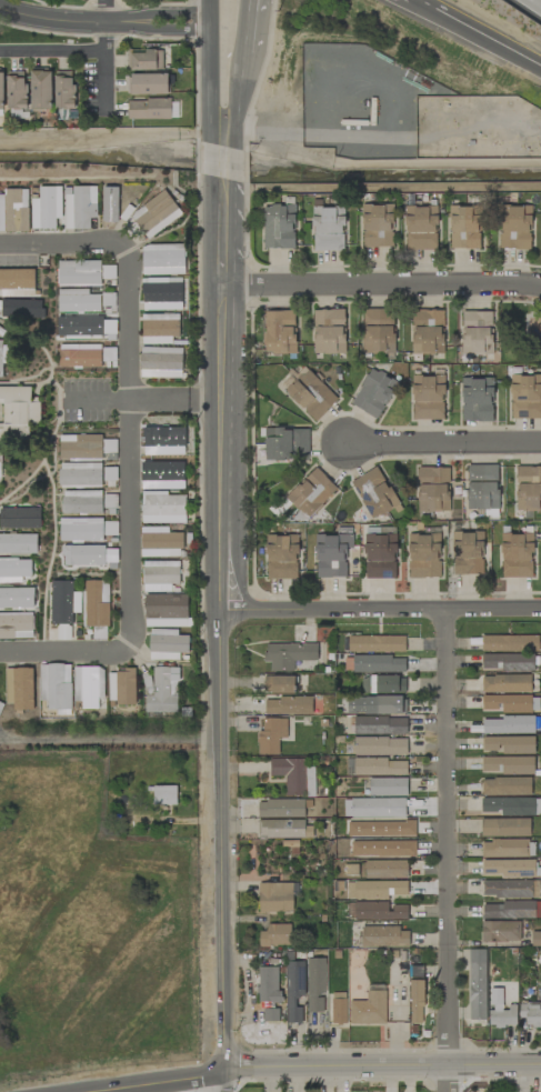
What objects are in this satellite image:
road: (103, 10)
road: (103, 20)
road: (474, 39)
road: (260, 49)
road: (53, 56)
building: (144, 60)
road: (107, 68)
road: (240, 74)
road: (210, 76)
building: (148, 83)
building: (16, 90)
building: (40, 90)
building: (63, 90)
building: (1, 91)
building: (149, 109)
building: (80, 207)
building: (46, 208)
building: (13, 210)
building: (156, 214)
building: (279, 226)
building: (378, 226)
building: (464, 227)
building: (515, 227)
building: (421, 228)
building: (329, 229)
road: (63, 241)
building: (162, 259)
building: (79, 273)
road: (384, 284)
building: (161, 293)
building: (78, 300)
building: (21, 308)
road: (130, 325)
building: (159, 328)
building: (378, 330)
building: (279, 331)
building: (329, 331)
building: (427, 331)
building: (477, 332)
park: (519, 333)
building: (1, 354)
building: (79, 355)
building: (160, 362)
building: (373, 392)
building: (311, 394)
building: (428, 397)
building: (525, 397)
building: (477, 399)
road: (180, 401)
road: (98, 402)
building: (18, 412)
building: (158, 439)
road: (443, 441)
building: (285, 444)
building: (80, 447)
building: (109, 473)
building: (158, 473)
building: (79, 474)
building: (482, 487)
building: (433, 489)
building: (528, 489)
building: (373, 492)
building: (311, 493)
building: (81, 501)
building: (163, 508)
building: (20, 518)
road: (132, 523)
building: (110, 528)
building: (80, 529)
building: (160, 542)
building: (18, 543)
building: (467, 553)
building: (331, 554)
building: (423, 555)
building: (517, 555)
building: (281, 557)
building: (380, 557)
building: (14, 570)
building: (160, 575)
building: (61, 602)
building: (96, 603)
road: (231, 610)
road: (387, 611)
building: (16, 625)
building: (375, 643)
building: (509, 643)
building: (167, 644)
road: (67, 652)
building: (288, 654)
building: (507, 662)
building: (377, 663)
building: (279, 684)
building: (382, 684)
building: (505, 684)
building: (88, 685)
building: (54, 687)
building: (121, 687)
building: (19, 688)
building: (161, 690)
building: (507, 703)
building: (375, 704)
building: (288, 705)
building: (379, 725)
building: (508, 725)
building: (271, 735)
building: (508, 744)
building: (379, 745)
building: (507, 764)
building: (380, 767)
building: (294, 775)
building: (388, 787)
building: (505, 787)
building: (164, 795)
building: (374, 807)
building: (512, 807)
building: (281, 809)
building: (504, 826)
building: (284, 829)
building: (381, 829)
building: (383, 848)
building: (504, 848)
road: (449, 851)
building: (508, 868)
building: (385, 869)
building: (374, 889)
building: (510, 889)
building: (277, 896)
building: (511, 910)
building: (375, 911)
building: (500, 931)
building: (275, 935)
building: (383, 936)
building: (535, 939)
building: (477, 984)
building: (315, 985)
building: (294, 992)
building: (268, 993)
building: (415, 1001)
building: (369, 1006)
building: (339, 1008)
building: (500, 1011)
building: (530, 1013)
road: (380, 1068)
road: (143, 1081)
road: (219, 1081)

